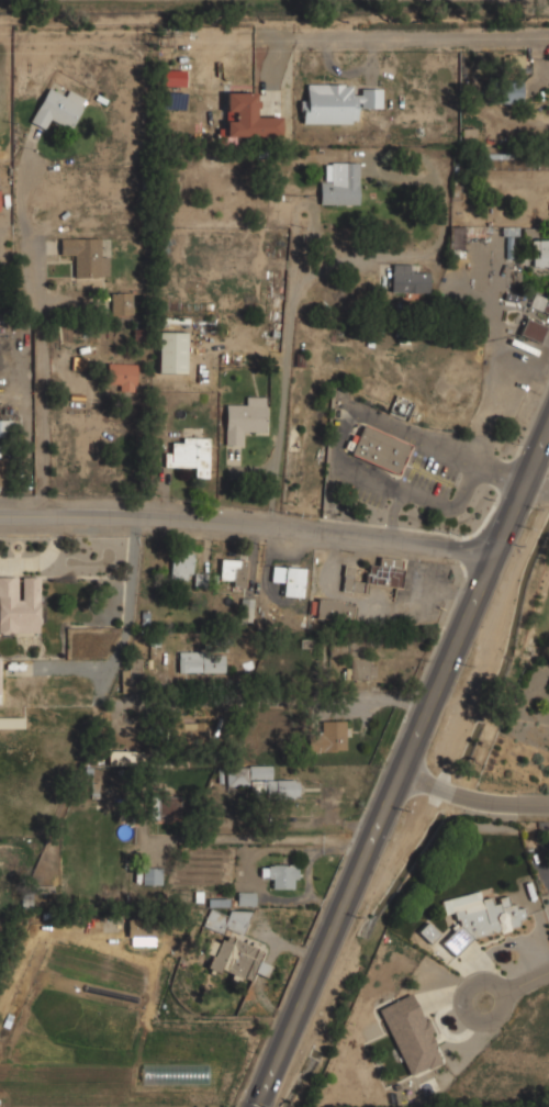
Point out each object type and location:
road: (414, 34)
building: (173, 78)
building: (508, 92)
building: (336, 103)
building: (57, 109)
building: (248, 118)
building: (339, 183)
building: (456, 242)
building: (539, 253)
building: (86, 257)
road: (335, 265)
building: (408, 279)
building: (121, 303)
building: (539, 303)
building: (533, 329)
road: (43, 335)
building: (171, 351)
building: (121, 376)
road: (359, 416)
building: (244, 418)
building: (5, 428)
building: (379, 450)
road: (445, 451)
building: (190, 455)
road: (369, 471)
parking lot: (432, 473)
road: (500, 477)
parking lot: (356, 487)
road: (535, 494)
road: (445, 506)
road: (391, 513)
road: (247, 529)
building: (181, 564)
building: (232, 572)
building: (372, 574)
building: (289, 580)
building: (20, 604)
building: (246, 608)
building: (332, 610)
building: (337, 647)
building: (200, 661)
building: (358, 668)
building: (131, 674)
road: (279, 703)
building: (11, 722)
building: (189, 729)
building: (329, 736)
building: (123, 758)
road: (403, 768)
building: (256, 780)
road: (472, 801)
building: (166, 806)
building: (152, 875)
building: (281, 875)
building: (245, 897)
building: (482, 916)
building: (143, 930)
building: (428, 932)
building: (231, 944)
road: (515, 985)
building: (410, 1035)
traffic signals: (259, 1105)

